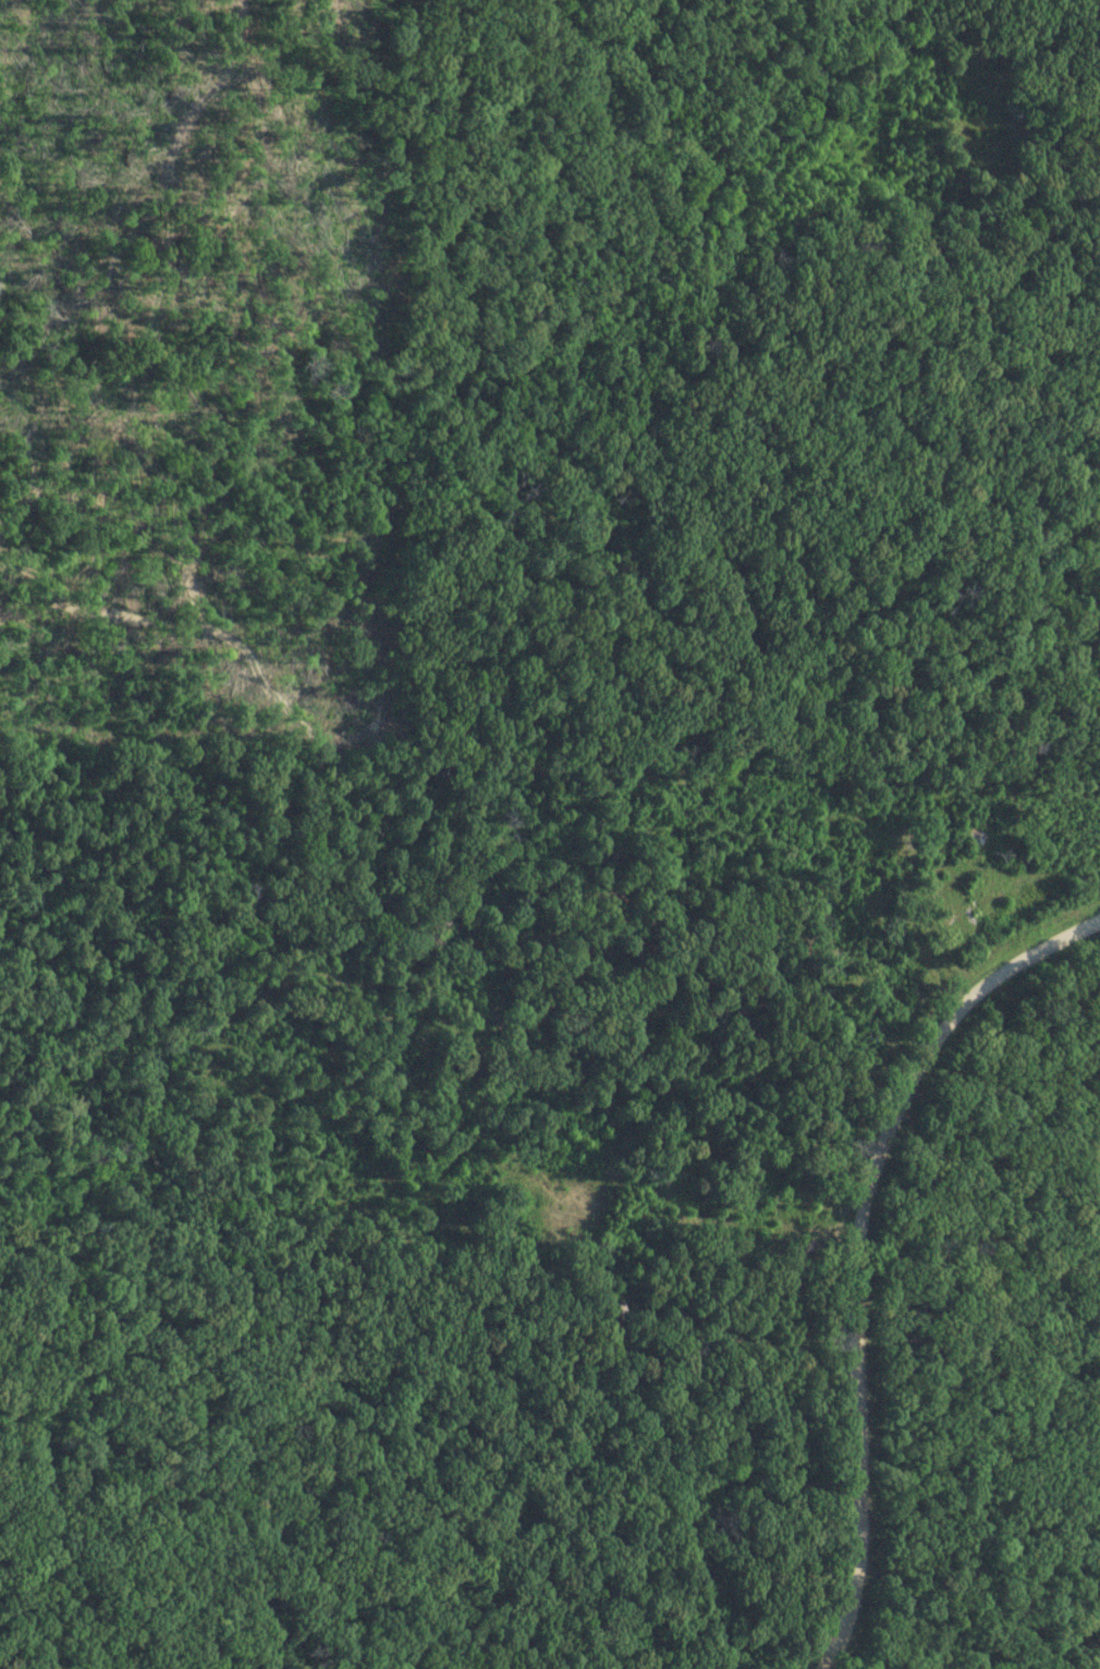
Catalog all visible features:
road: (1032, 151)
road: (863, 1243)
road: (751, 1337)

